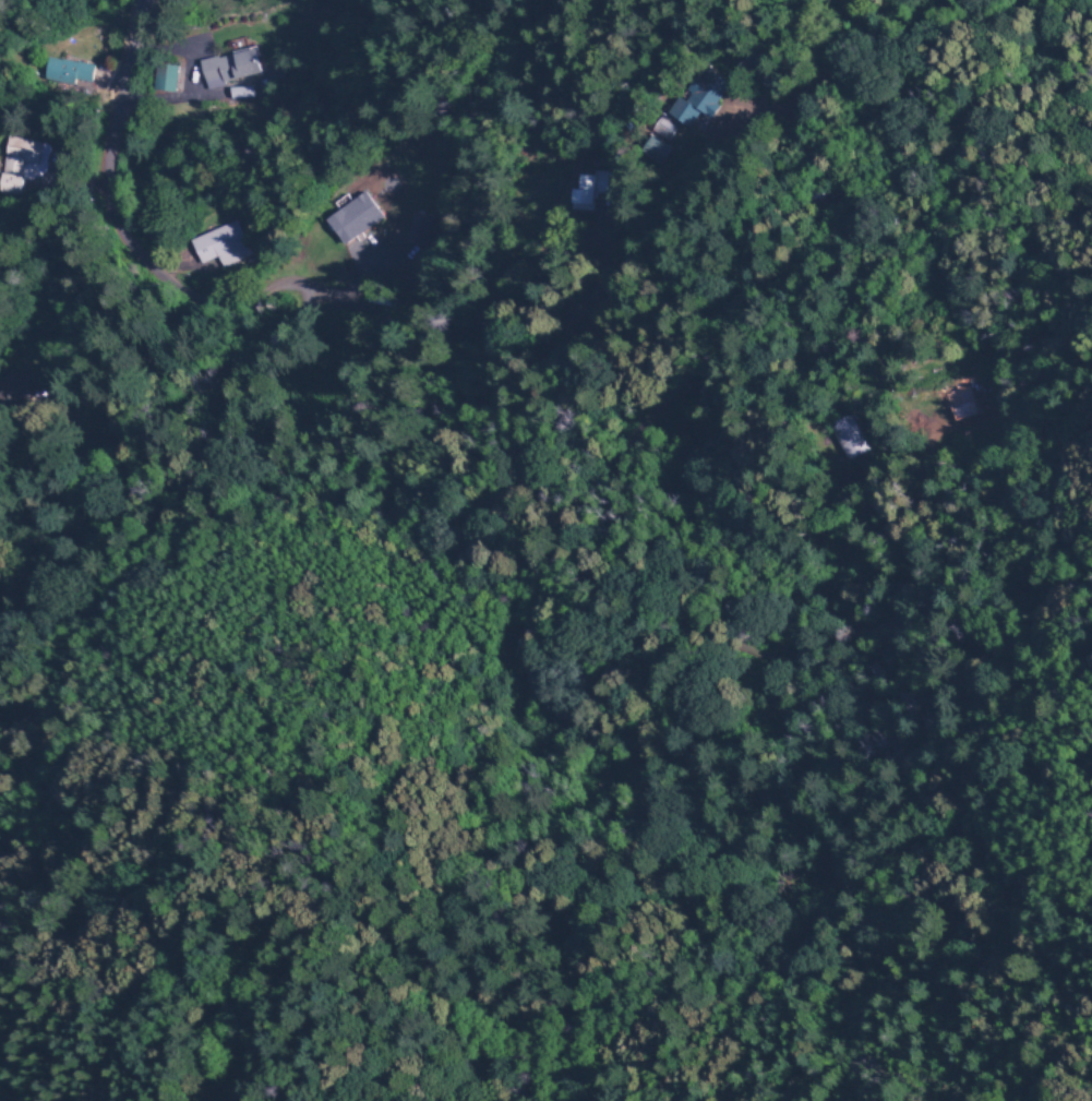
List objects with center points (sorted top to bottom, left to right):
road: (1053, 63)
road: (130, 70)
building: (230, 72)
building: (70, 77)
building: (169, 82)
building: (699, 97)
building: (653, 149)
building: (22, 170)
building: (587, 200)
building: (352, 224)
building: (415, 232)
building: (219, 252)

